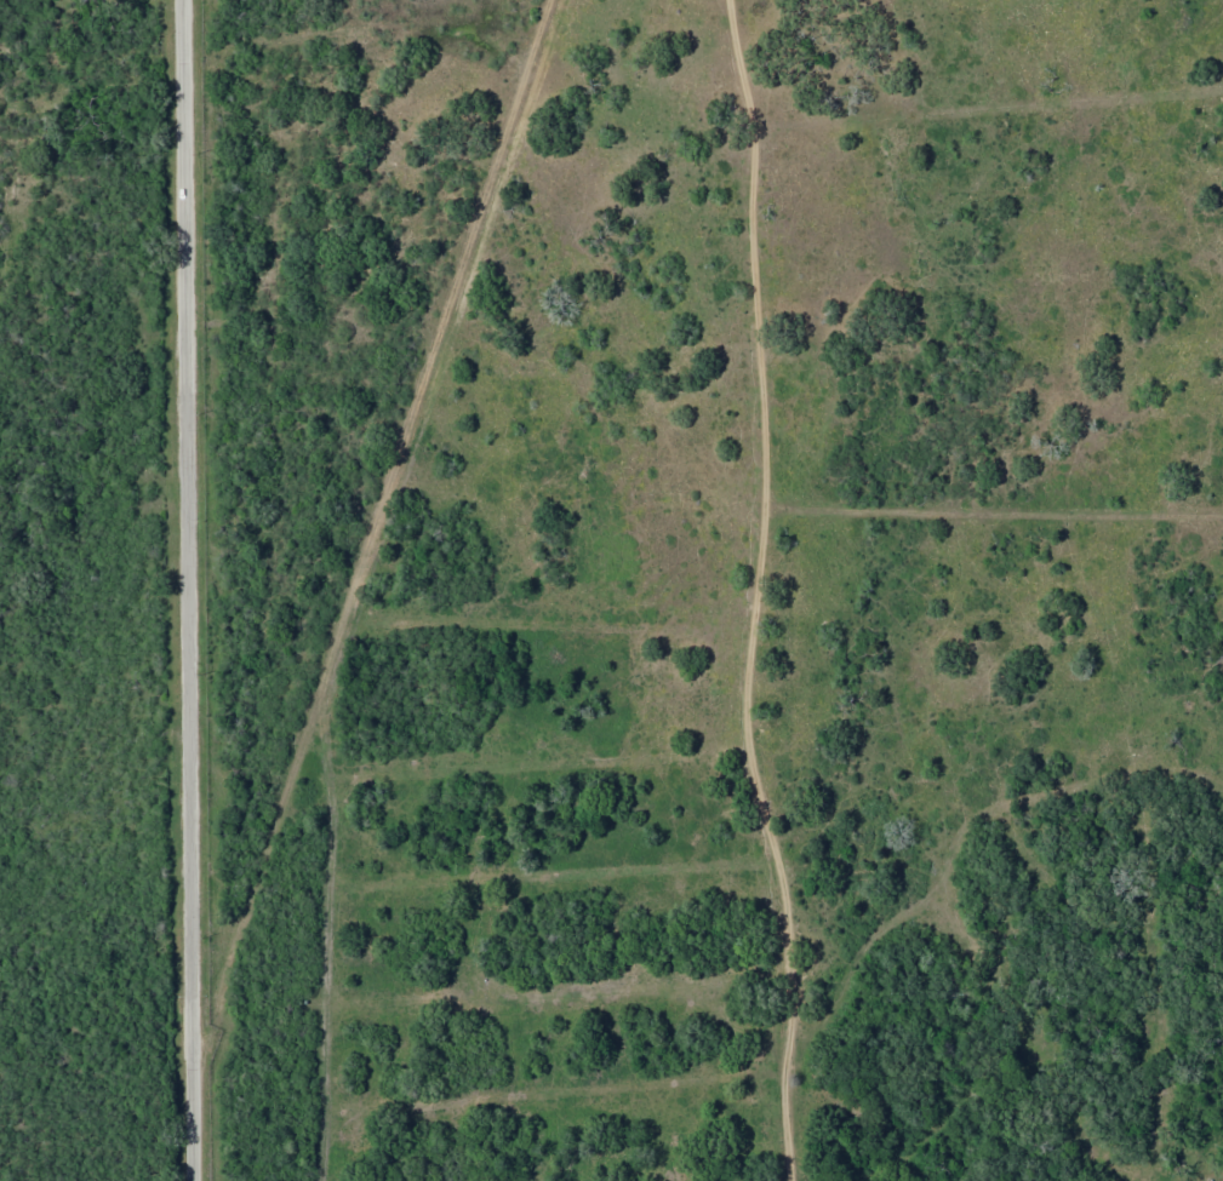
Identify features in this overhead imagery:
road: (194, 590)

